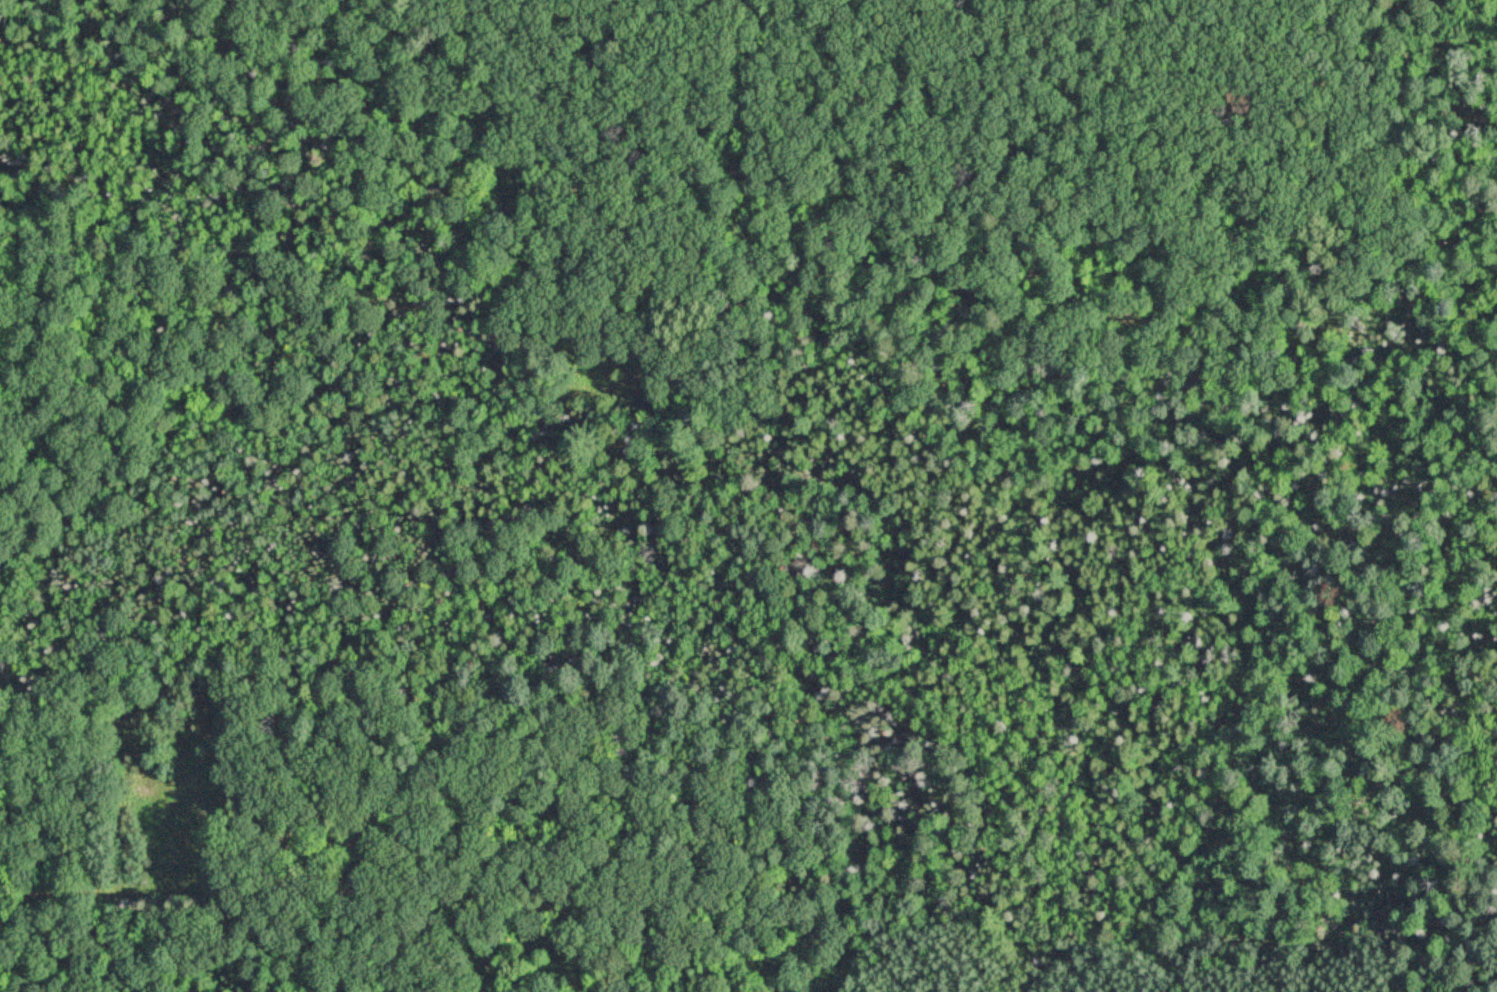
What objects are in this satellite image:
park: (747, 467)
park: (748, 496)

